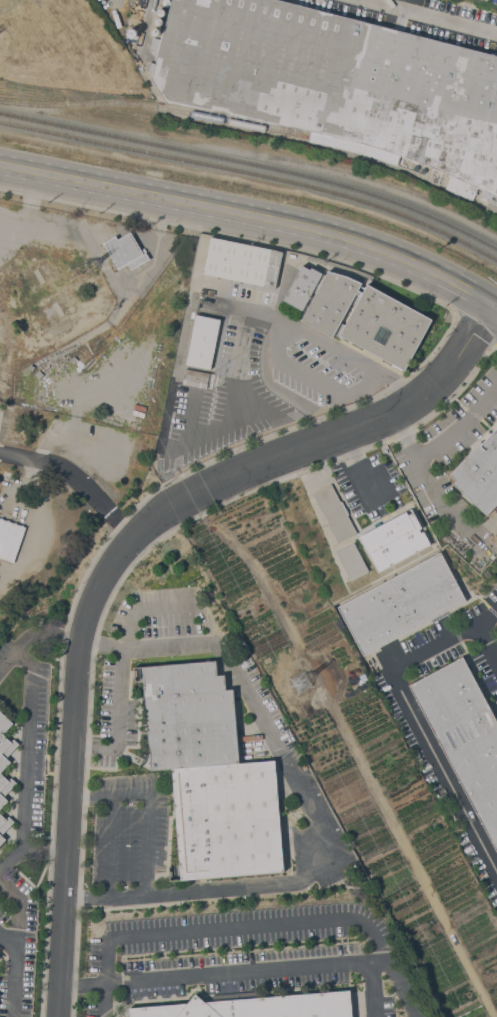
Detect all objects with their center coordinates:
building: (166, 2)
building: (161, 12)
road: (429, 17)
building: (159, 21)
building: (156, 31)
building: (132, 32)
building: (336, 83)
railway: (154, 105)
railway: (253, 163)
building: (417, 168)
railway: (254, 173)
road: (251, 216)
building: (126, 251)
building: (242, 262)
power tower: (84, 269)
building: (302, 286)
road: (494, 303)
building: (367, 318)
road: (302, 330)
road: (274, 335)
building: (203, 341)
building: (194, 374)
power substation: (78, 382)
road: (322, 383)
road: (272, 388)
road: (404, 389)
road: (230, 390)
road: (251, 406)
road: (374, 424)
road: (460, 425)
road: (360, 467)
building: (479, 472)
road: (75, 478)
road: (430, 485)
building: (334, 512)
building: (7, 537)
building: (393, 539)
building: (352, 561)
building: (401, 603)
road: (165, 607)
road: (477, 622)
road: (34, 634)
road: (89, 642)
power tower: (306, 686)
road: (116, 707)
building: (189, 716)
road: (73, 722)
road: (420, 729)
building: (464, 734)
road: (28, 744)
road: (81, 744)
building: (5, 757)
road: (128, 793)
road: (79, 794)
road: (100, 794)
road: (303, 804)
building: (227, 820)
building: (4, 826)
road: (29, 847)
road: (73, 896)
road: (16, 911)
road: (243, 924)
road: (273, 966)
road: (13, 972)
road: (105, 999)
building: (256, 1007)

